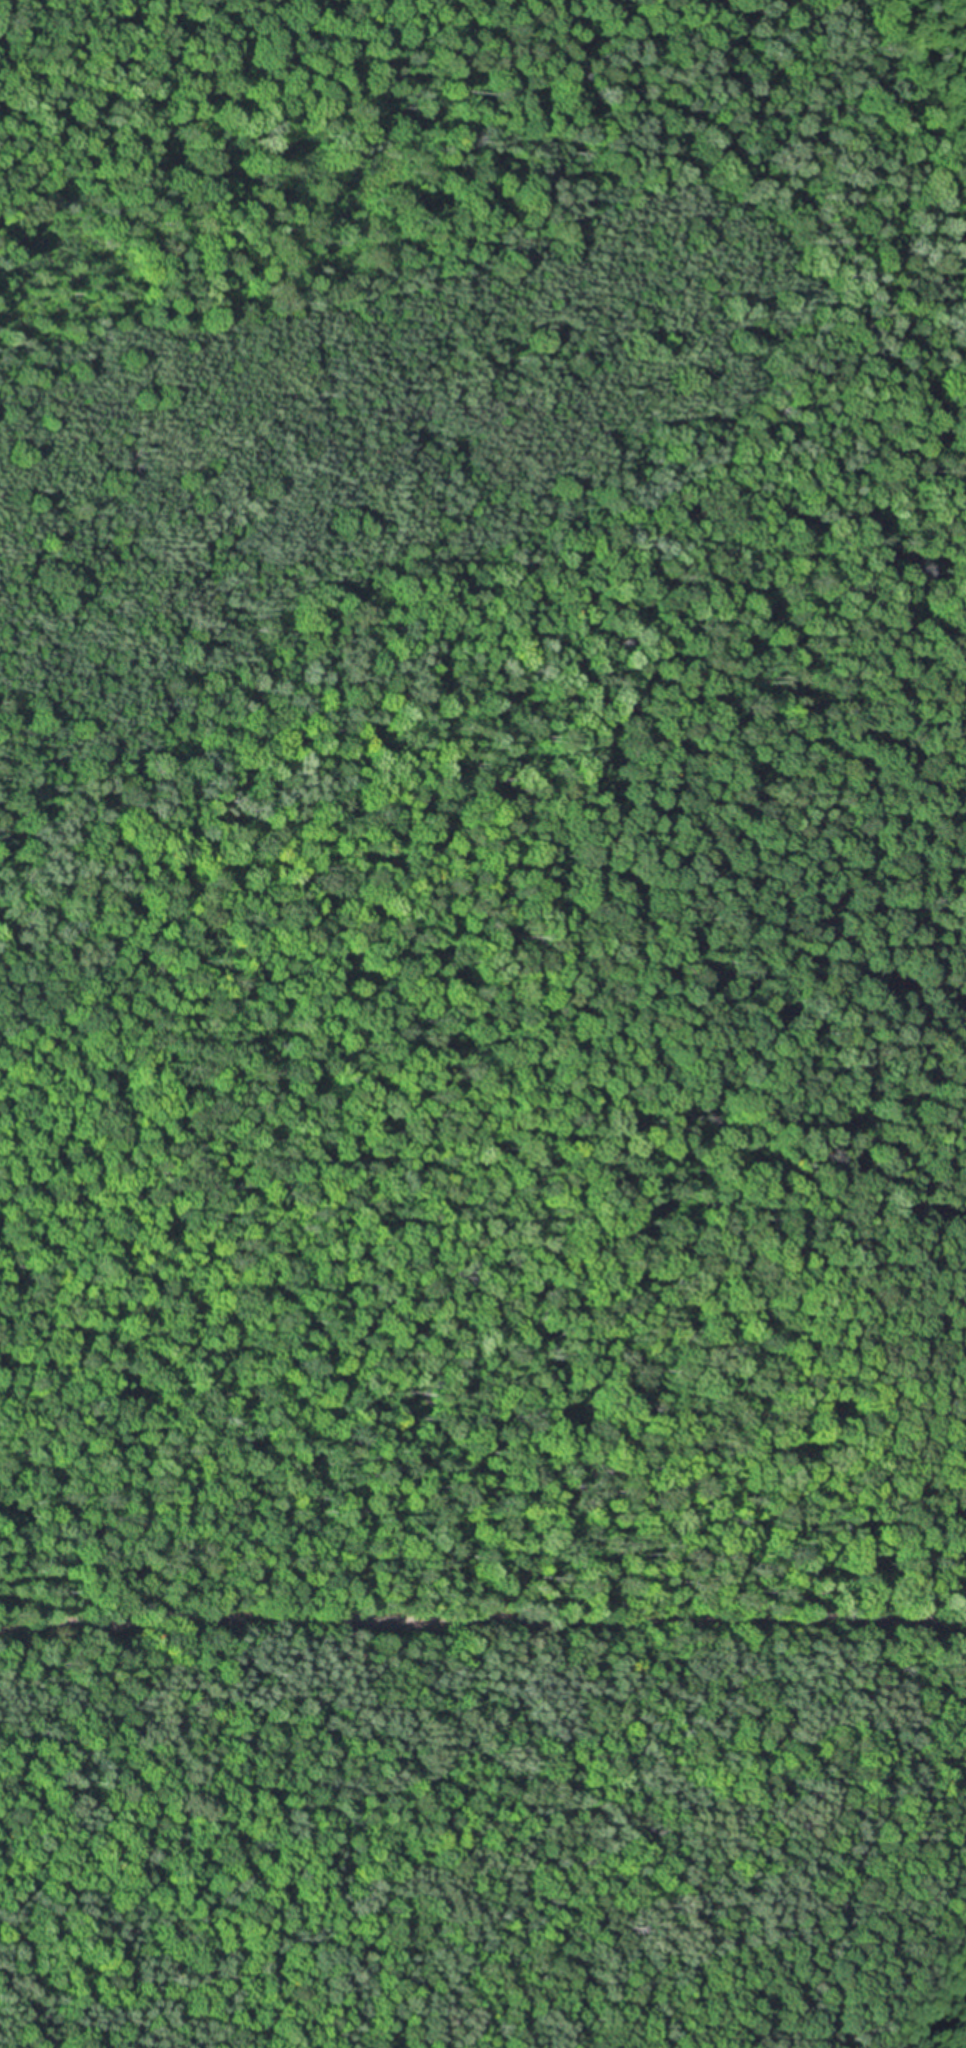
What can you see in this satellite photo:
road: (482, 1621)

